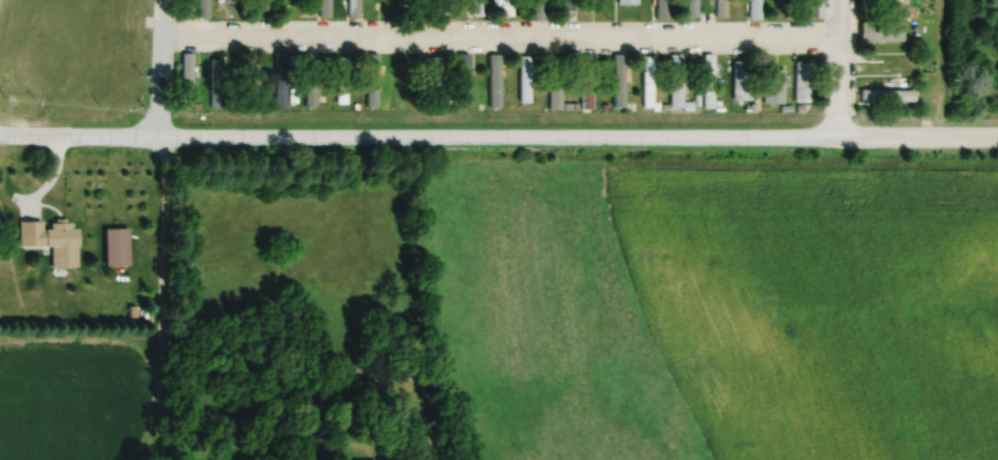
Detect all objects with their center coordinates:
building: (757, 0)
building: (234, 2)
building: (631, 2)
building: (884, 4)
building: (265, 5)
building: (726, 5)
building: (572, 6)
building: (602, 6)
building: (540, 7)
building: (206, 8)
building: (297, 8)
building: (356, 8)
building: (479, 8)
building: (665, 8)
building: (328, 9)
building: (507, 9)
building: (695, 9)
building: (819, 9)
building: (388, 10)
building: (884, 32)
road: (499, 40)
building: (25, 59)
road: (839, 63)
road: (161, 66)
building: (890, 69)
building: (500, 71)
building: (404, 78)
building: (284, 80)
building: (190, 82)
building: (255, 82)
building: (345, 82)
building: (711, 82)
building: (651, 83)
building: (679, 83)
building: (745, 83)
building: (806, 83)
building: (221, 84)
building: (375, 84)
building: (622, 86)
building: (776, 87)
building: (589, 94)
building: (891, 97)
road: (920, 125)
road: (421, 130)
building: (55, 242)
road: (162, 297)

